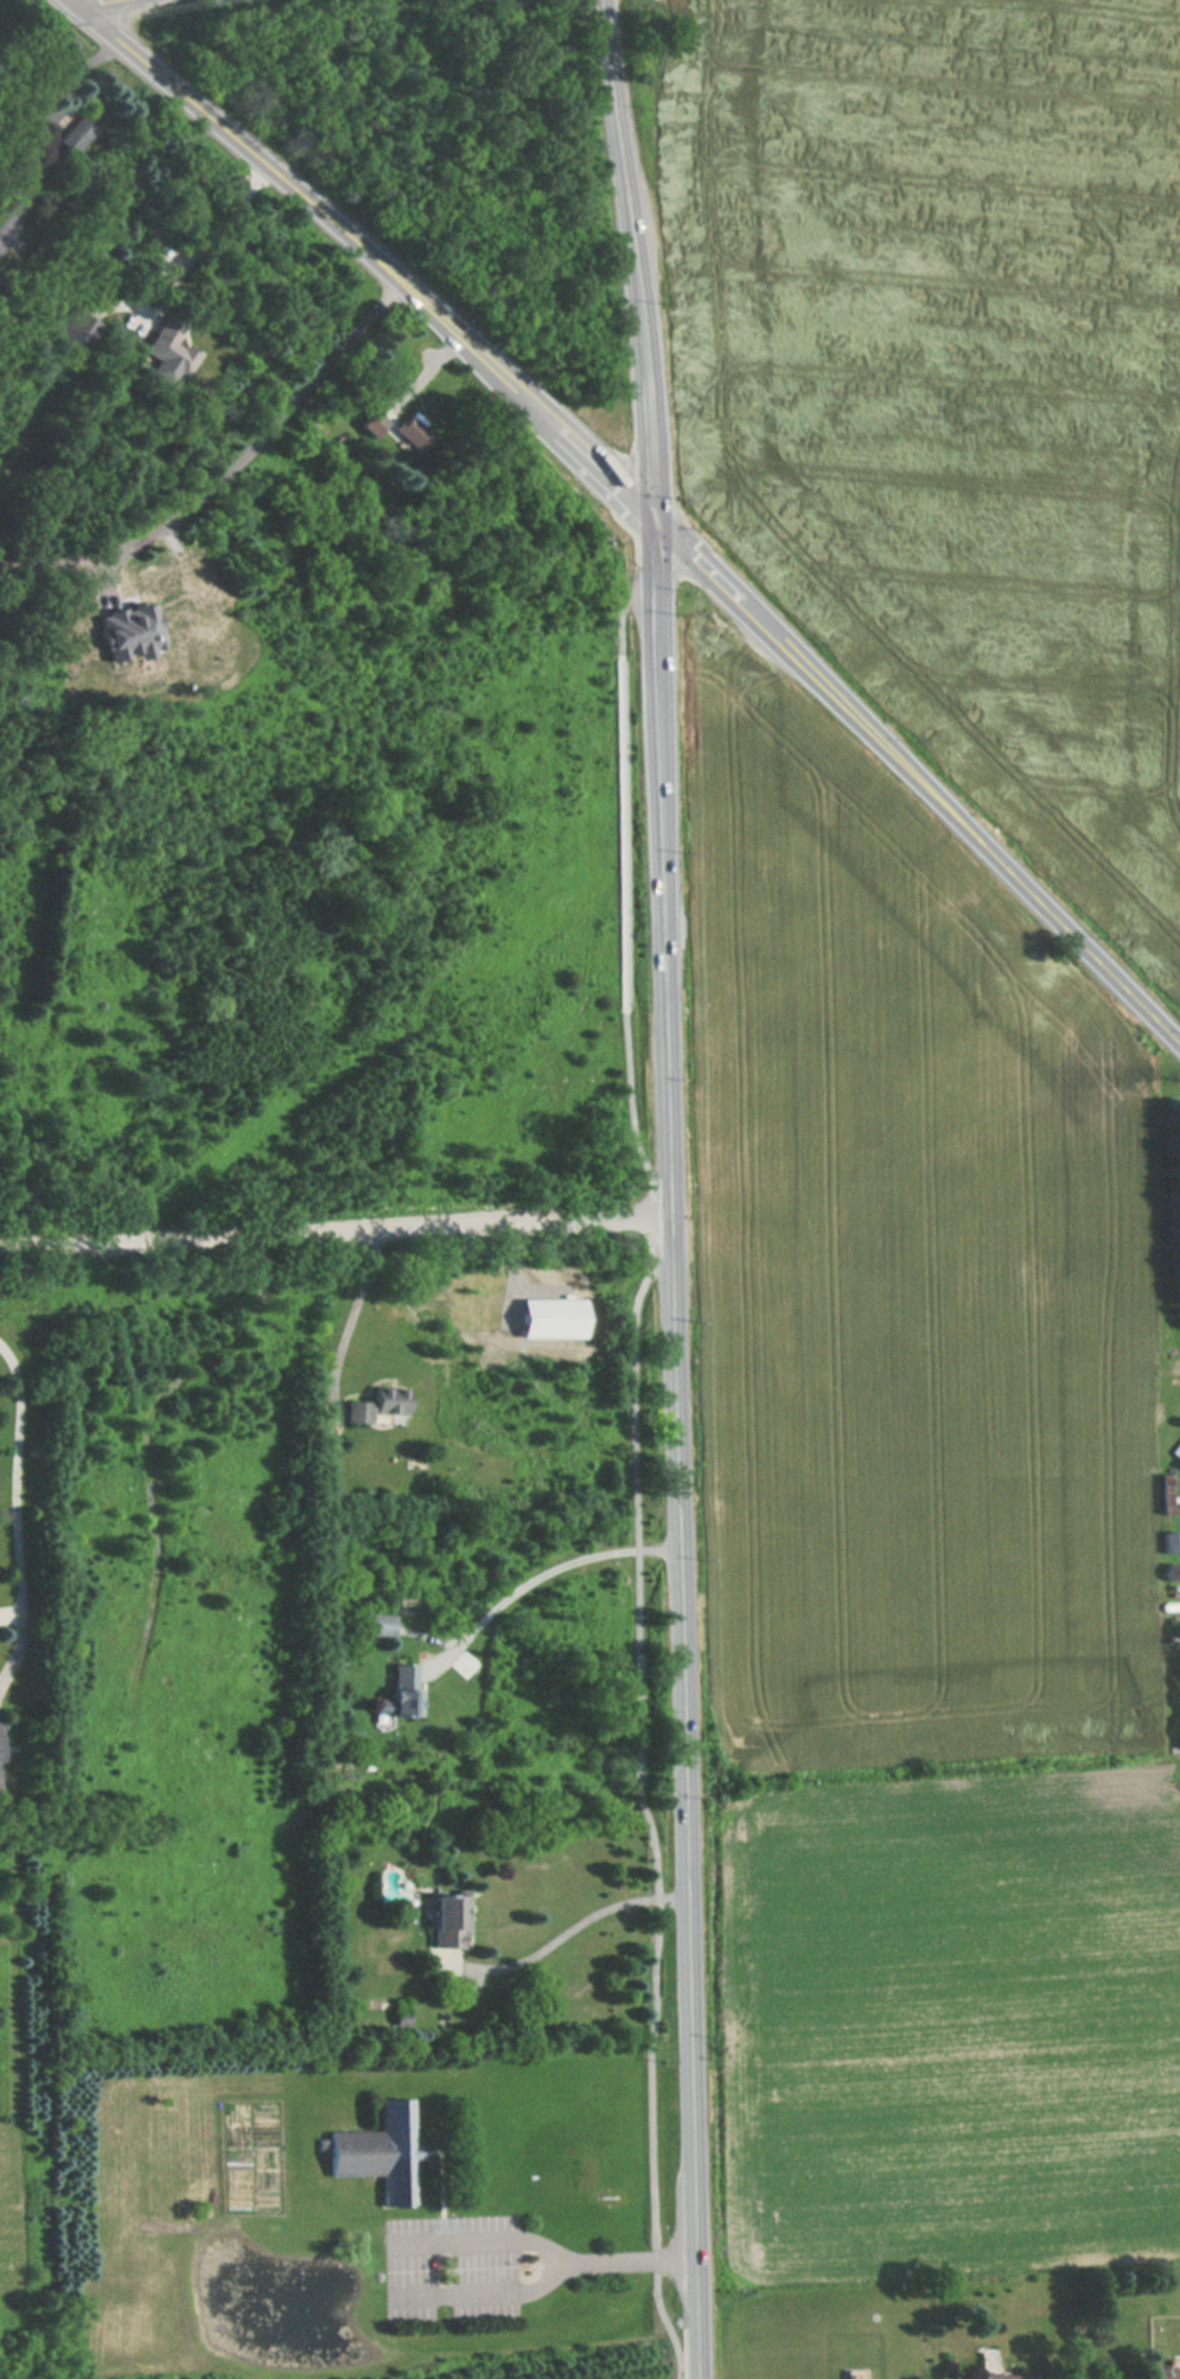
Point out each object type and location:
road: (100, 2)
road: (28, 123)
building: (77, 133)
road: (625, 153)
road: (294, 185)
road: (178, 266)
building: (170, 348)
road: (650, 408)
building: (400, 430)
road: (582, 443)
road: (231, 471)
traffic signals: (656, 509)
road: (706, 559)
road: (639, 593)
road: (661, 645)
road: (968, 823)
road: (575, 1093)
parking lot: (502, 1136)
road: (454, 1150)
road: (337, 1227)
crop: (904, 1274)
road: (349, 1317)
building: (376, 1405)
building: (1176, 1449)
road: (28, 1475)
road: (639, 1497)
building: (1171, 1541)
road: (547, 1569)
road: (683, 1580)
building: (1175, 1616)
building: (378, 1624)
building: (400, 1693)
building: (1, 1744)
building: (0, 1786)
building: (446, 1921)
road: (579, 1923)
crop: (946, 2027)
building: (381, 2151)
road: (605, 2254)
parking lot: (453, 2260)
road: (420, 2264)
road: (548, 2276)
building: (996, 2367)
building: (1163, 2372)

